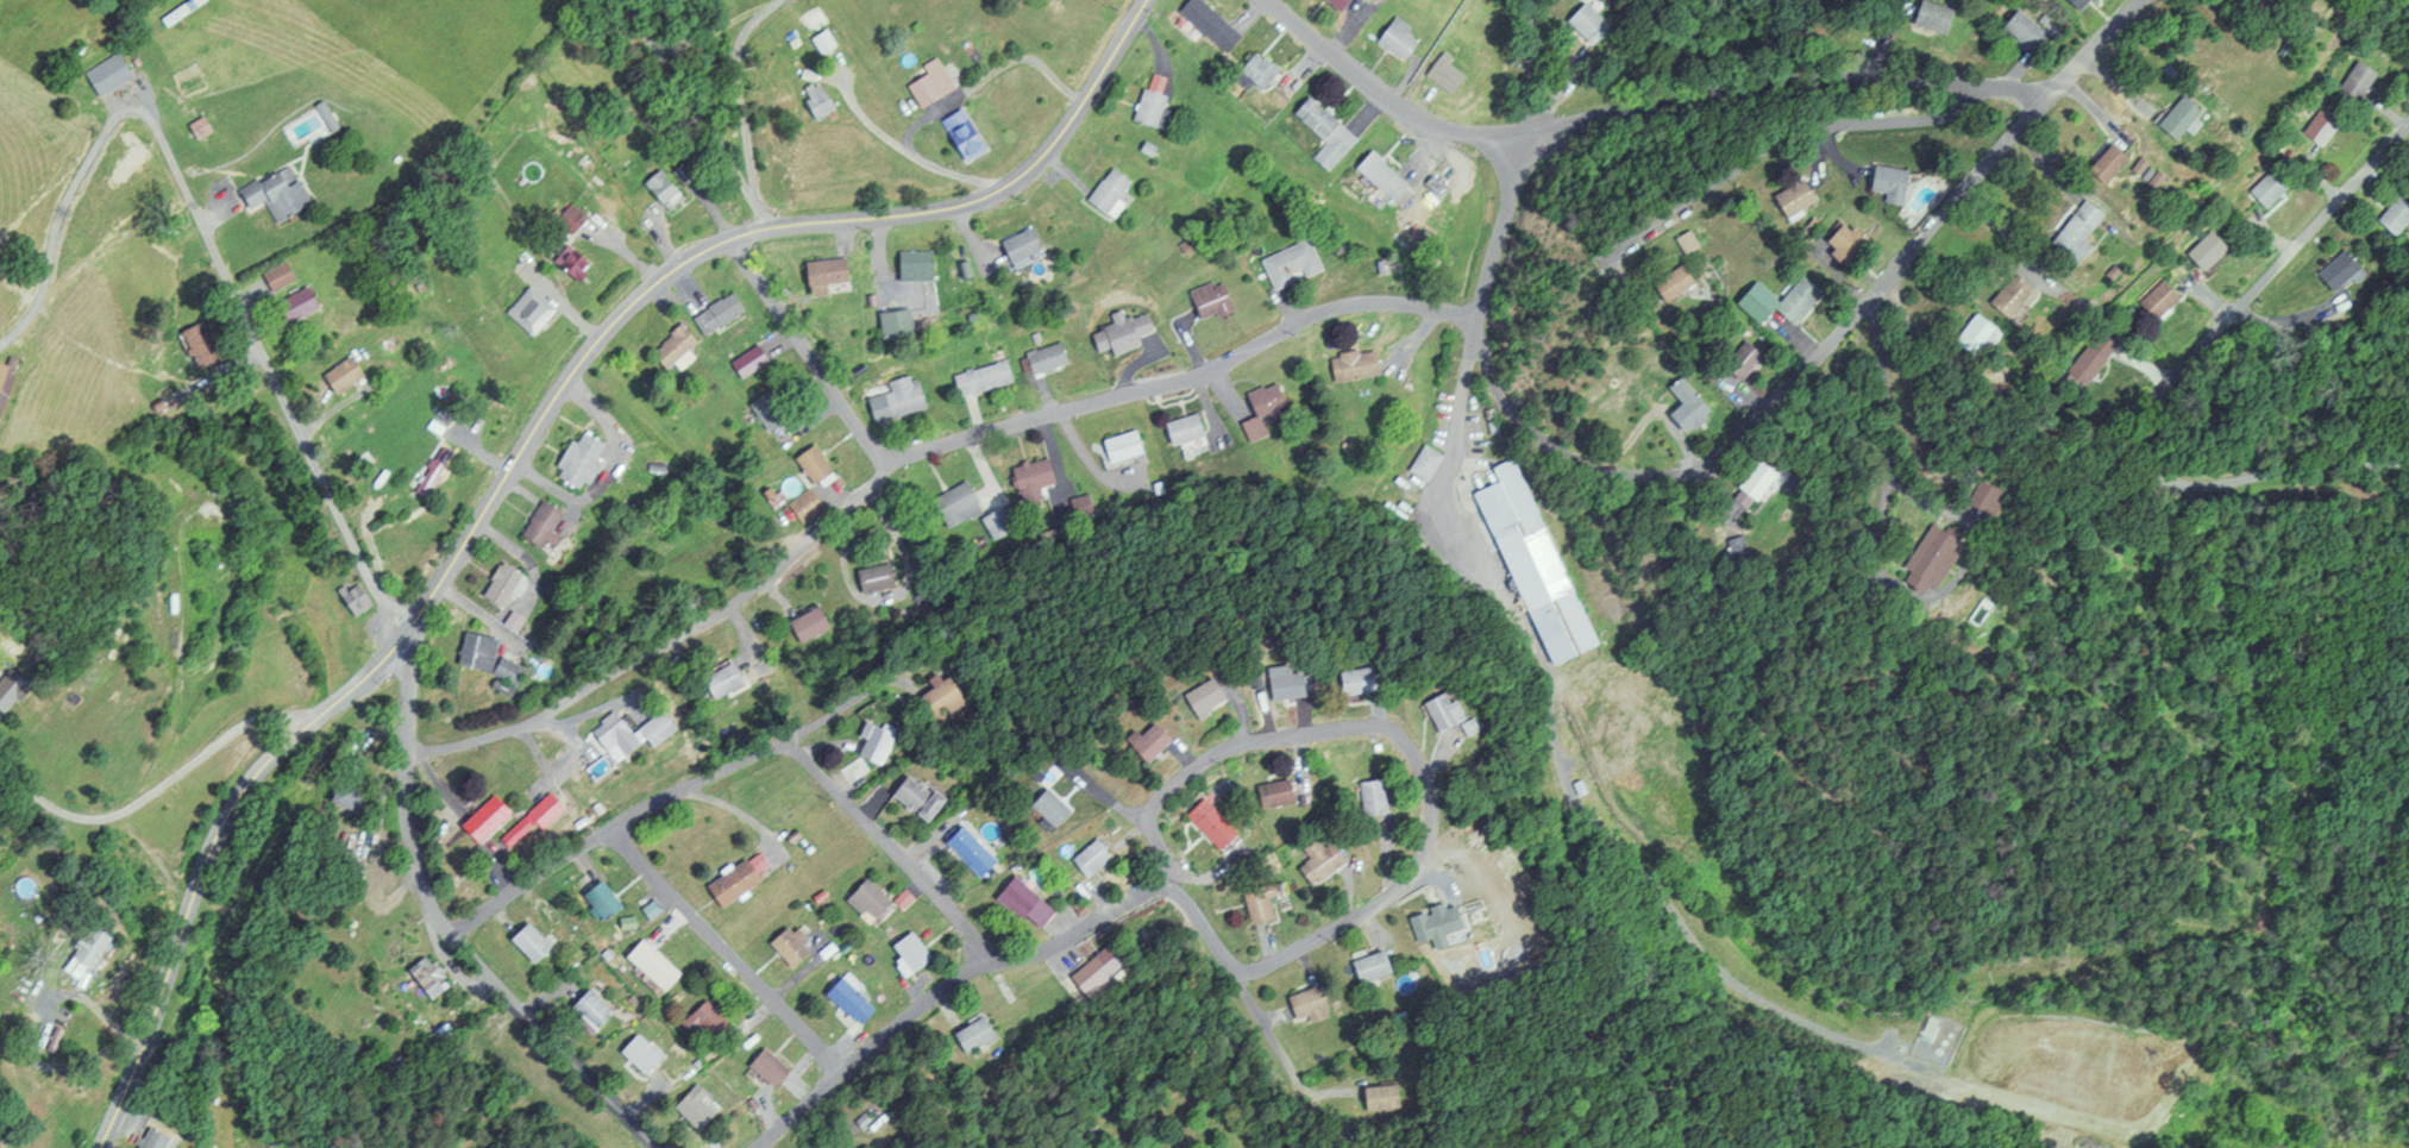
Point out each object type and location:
building: (1332, 4)
building: (1930, 17)
building: (1586, 21)
building: (1204, 24)
building: (2024, 30)
building: (1392, 37)
road: (2091, 46)
building: (1251, 71)
building: (114, 73)
building: (1441, 74)
building: (2354, 80)
building: (926, 82)
road: (1630, 90)
building: (811, 99)
building: (1144, 107)
building: (2175, 115)
road: (2271, 121)
building: (2316, 123)
building: (206, 126)
road: (1806, 131)
building: (1320, 132)
building: (958, 134)
building: (2102, 162)
building: (1380, 177)
building: (1884, 182)
building: (2265, 186)
building: (658, 188)
building: (1103, 189)
building: (282, 192)
building: (1790, 196)
building: (2392, 213)
building: (570, 218)
road: (1499, 221)
building: (2074, 230)
building: (1682, 240)
building: (1843, 240)
building: (1014, 244)
building: (2201, 249)
building: (566, 262)
building: (1287, 263)
building: (911, 264)
building: (2335, 269)
building: (821, 270)
building: (283, 274)
building: (1667, 281)
building: (2003, 295)
building: (1205, 299)
building: (1793, 299)
building: (2153, 299)
building: (302, 303)
building: (525, 310)
building: (713, 313)
building: (890, 322)
building: (1968, 332)
building: (671, 347)
road: (805, 352)
building: (1041, 357)
building: (2087, 358)
building: (1738, 360)
building: (1349, 364)
road: (265, 365)
building: (347, 376)
building: (977, 377)
road: (2162, 383)
building: (893, 400)
road: (1771, 400)
building: (1682, 406)
building: (1259, 409)
building: (763, 410)
road: (1892, 425)
building: (1179, 428)
building: (1118, 448)
road: (517, 454)
building: (573, 459)
road: (904, 459)
building: (1422, 462)
building: (808, 464)
building: (431, 471)
building: (1028, 479)
building: (1752, 479)
road: (1919, 496)
building: (954, 504)
building: (802, 506)
building: (998, 522)
building: (538, 528)
building: (1924, 558)
building: (1530, 563)
building: (873, 578)
building: (496, 584)
building: (351, 600)
building: (807, 623)
building: (472, 651)
building: (507, 671)
building: (719, 680)
building: (1353, 680)
building: (1278, 683)
building: (15, 690)
building: (939, 698)
building: (1198, 698)
building: (1436, 711)
road: (1286, 734)
building: (625, 736)
building: (1138, 742)
building: (871, 744)
road: (159, 789)
building: (355, 793)
building: (1269, 793)
building: (912, 797)
building: (1365, 797)
building: (1043, 807)
building: (547, 809)
road: (733, 810)
building: (490, 816)
building: (1205, 822)
road: (609, 832)
road: (887, 848)
building: (965, 849)
building: (1086, 857)
building: (1315, 860)
building: (733, 878)
building: (607, 898)
building: (865, 901)
building: (1256, 901)
building: (1017, 902)
building: (1435, 922)
road: (443, 936)
building: (534, 941)
building: (784, 945)
road: (727, 951)
building: (905, 952)
building: (659, 964)
building: (1368, 965)
building: (429, 976)
building: (1090, 978)
road: (936, 991)
building: (845, 999)
building: (1304, 1003)
building: (596, 1008)
building: (709, 1023)
building: (970, 1034)
building: (646, 1052)
building: (773, 1064)
building: (1379, 1096)
building: (701, 1105)
building: (161, 1137)
building: (23, 1147)
building: (1091, 1147)

